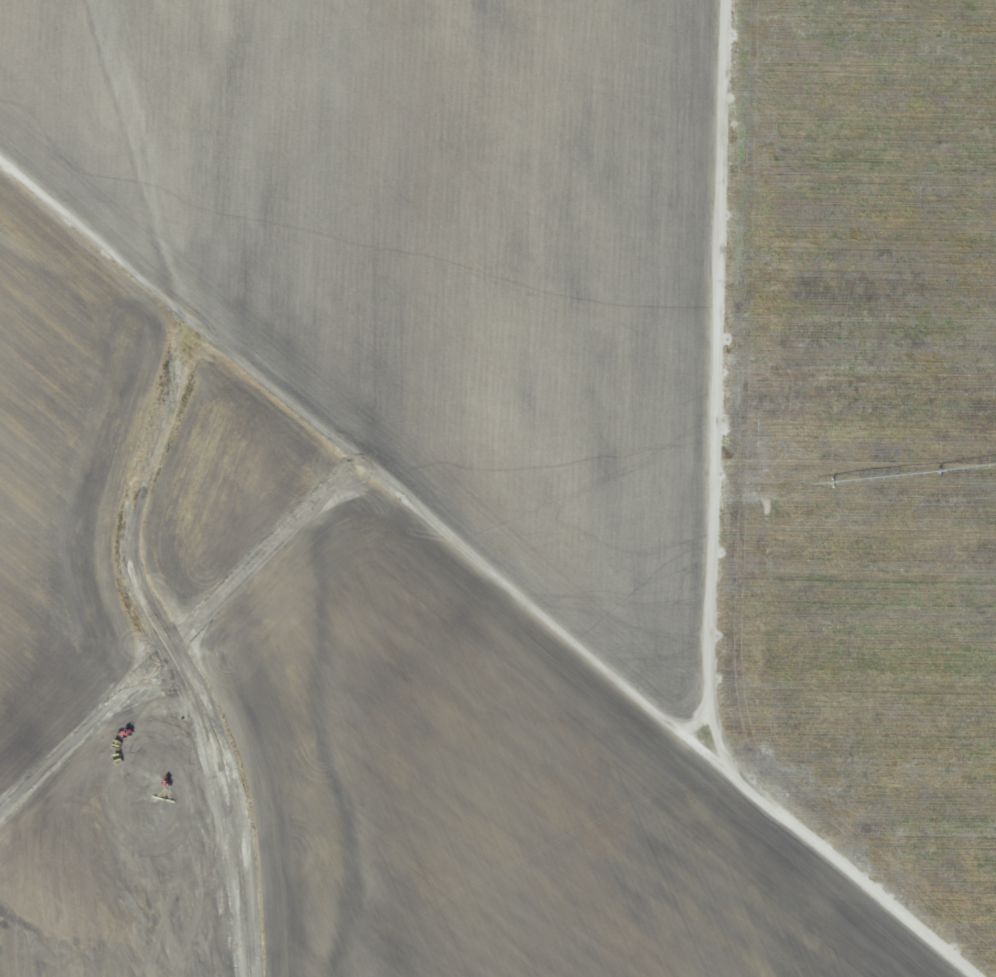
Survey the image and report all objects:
road: (723, 352)
road: (351, 435)
road: (838, 844)

